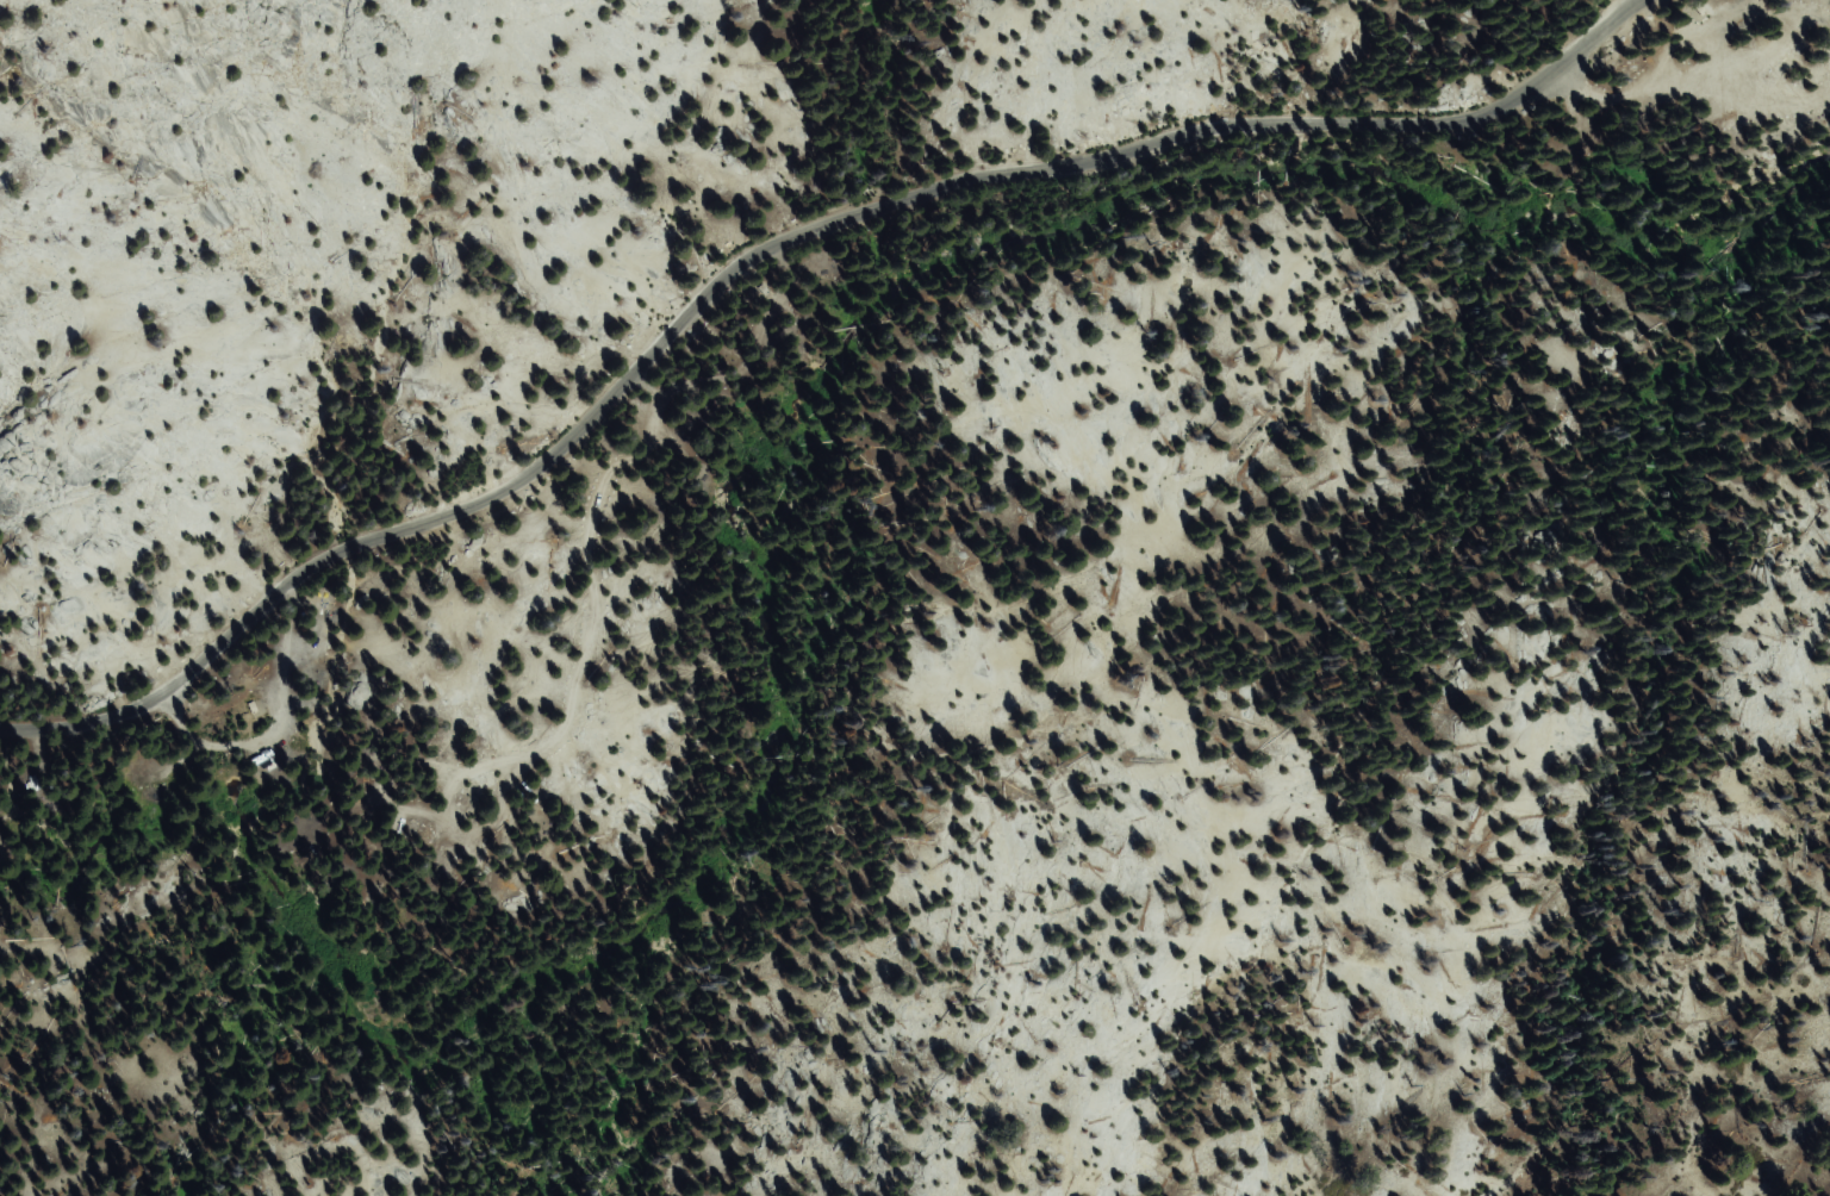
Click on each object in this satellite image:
road: (1692, 88)
road: (766, 250)
road: (286, 724)

